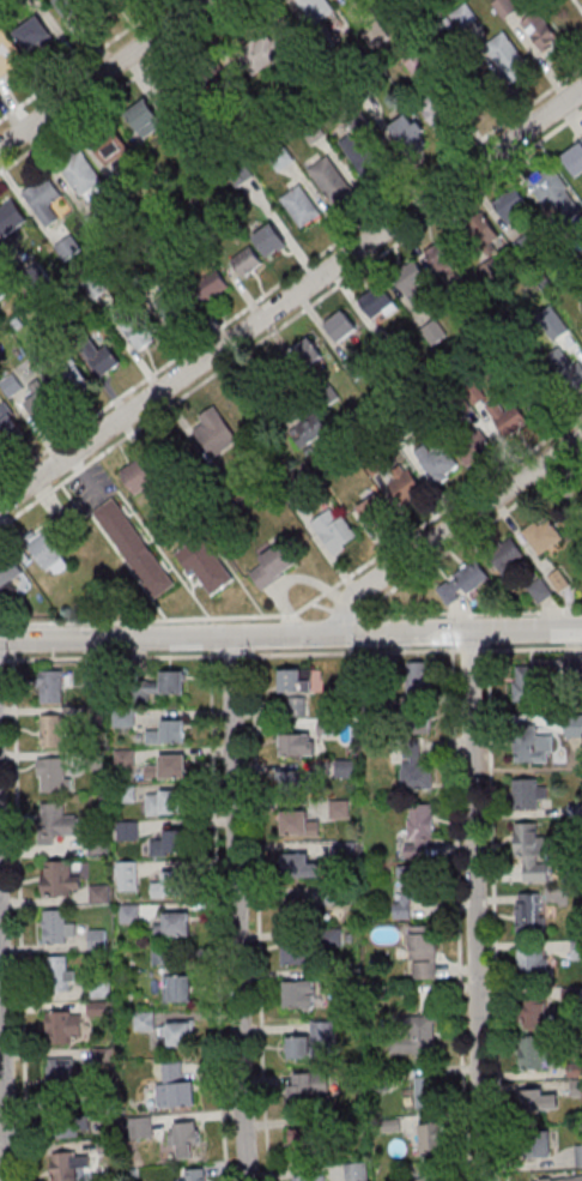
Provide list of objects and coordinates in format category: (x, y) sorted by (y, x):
road: (578, 5)
building: (504, 6)
building: (313, 8)
building: (465, 16)
building: (540, 30)
building: (34, 34)
building: (8, 52)
building: (274, 53)
building: (507, 56)
road: (83, 59)
road: (104, 74)
road: (119, 85)
building: (442, 108)
building: (146, 119)
building: (408, 133)
building: (364, 146)
building: (575, 159)
building: (83, 173)
building: (331, 180)
building: (553, 192)
building: (44, 194)
building: (301, 205)
building: (513, 207)
building: (13, 217)
building: (481, 231)
building: (269, 239)
building: (444, 253)
building: (247, 260)
road: (290, 275)
building: (411, 281)
building: (211, 284)
road: (291, 299)
building: (376, 301)
road: (291, 317)
building: (340, 326)
building: (137, 330)
building: (304, 357)
building: (107, 358)
building: (557, 370)
building: (509, 412)
building: (308, 430)
building: (212, 435)
building: (441, 465)
building: (138, 476)
building: (410, 486)
building: (370, 512)
road: (450, 529)
road: (473, 534)
building: (337, 535)
building: (542, 536)
building: (134, 548)
building: (48, 553)
building: (510, 556)
building: (207, 566)
building: (273, 566)
building: (10, 574)
building: (557, 580)
building: (462, 583)
building: (539, 590)
road: (316, 596)
road: (321, 605)
road: (365, 611)
road: (471, 611)
road: (346, 614)
road: (291, 634)
road: (486, 637)
road: (451, 638)
road: (210, 641)
road: (532, 647)
road: (469, 649)
road: (352, 652)
road: (230, 653)
road: (110, 657)
road: (2, 659)
building: (418, 675)
building: (293, 679)
building: (526, 682)
building: (163, 683)
building: (50, 687)
building: (292, 706)
building: (419, 721)
building: (53, 730)
building: (168, 730)
building: (296, 743)
building: (533, 747)
building: (416, 765)
building: (54, 773)
building: (295, 783)
building: (527, 791)
building: (165, 802)
building: (339, 808)
building: (59, 820)
building: (297, 824)
building: (127, 830)
building: (418, 830)
building: (170, 843)
building: (533, 850)
building: (301, 866)
building: (60, 876)
building: (170, 885)
building: (412, 888)
building: (98, 893)
road: (236, 906)
road: (475, 908)
building: (301, 910)
road: (457, 911)
road: (493, 911)
building: (526, 911)
road: (216, 915)
road: (260, 917)
road: (22, 921)
building: (171, 923)
building: (56, 927)
building: (576, 950)
building: (302, 951)
building: (163, 954)
building: (422, 954)
building: (533, 963)
building: (60, 971)
building: (177, 988)
building: (299, 994)
building: (535, 1011)
building: (144, 1020)
road: (4, 1023)
building: (63, 1025)
building: (424, 1030)
building: (175, 1035)
building: (310, 1042)
building: (533, 1052)
building: (61, 1071)
building: (172, 1085)
building: (308, 1086)
building: (428, 1093)
building: (539, 1098)
building: (66, 1126)
building: (186, 1135)
building: (431, 1138)
building: (301, 1140)
building: (539, 1143)
building: (578, 1155)
building: (65, 1167)
building: (356, 1170)
building: (437, 1171)
building: (193, 1174)
building: (309, 1177)
building: (562, 1179)

